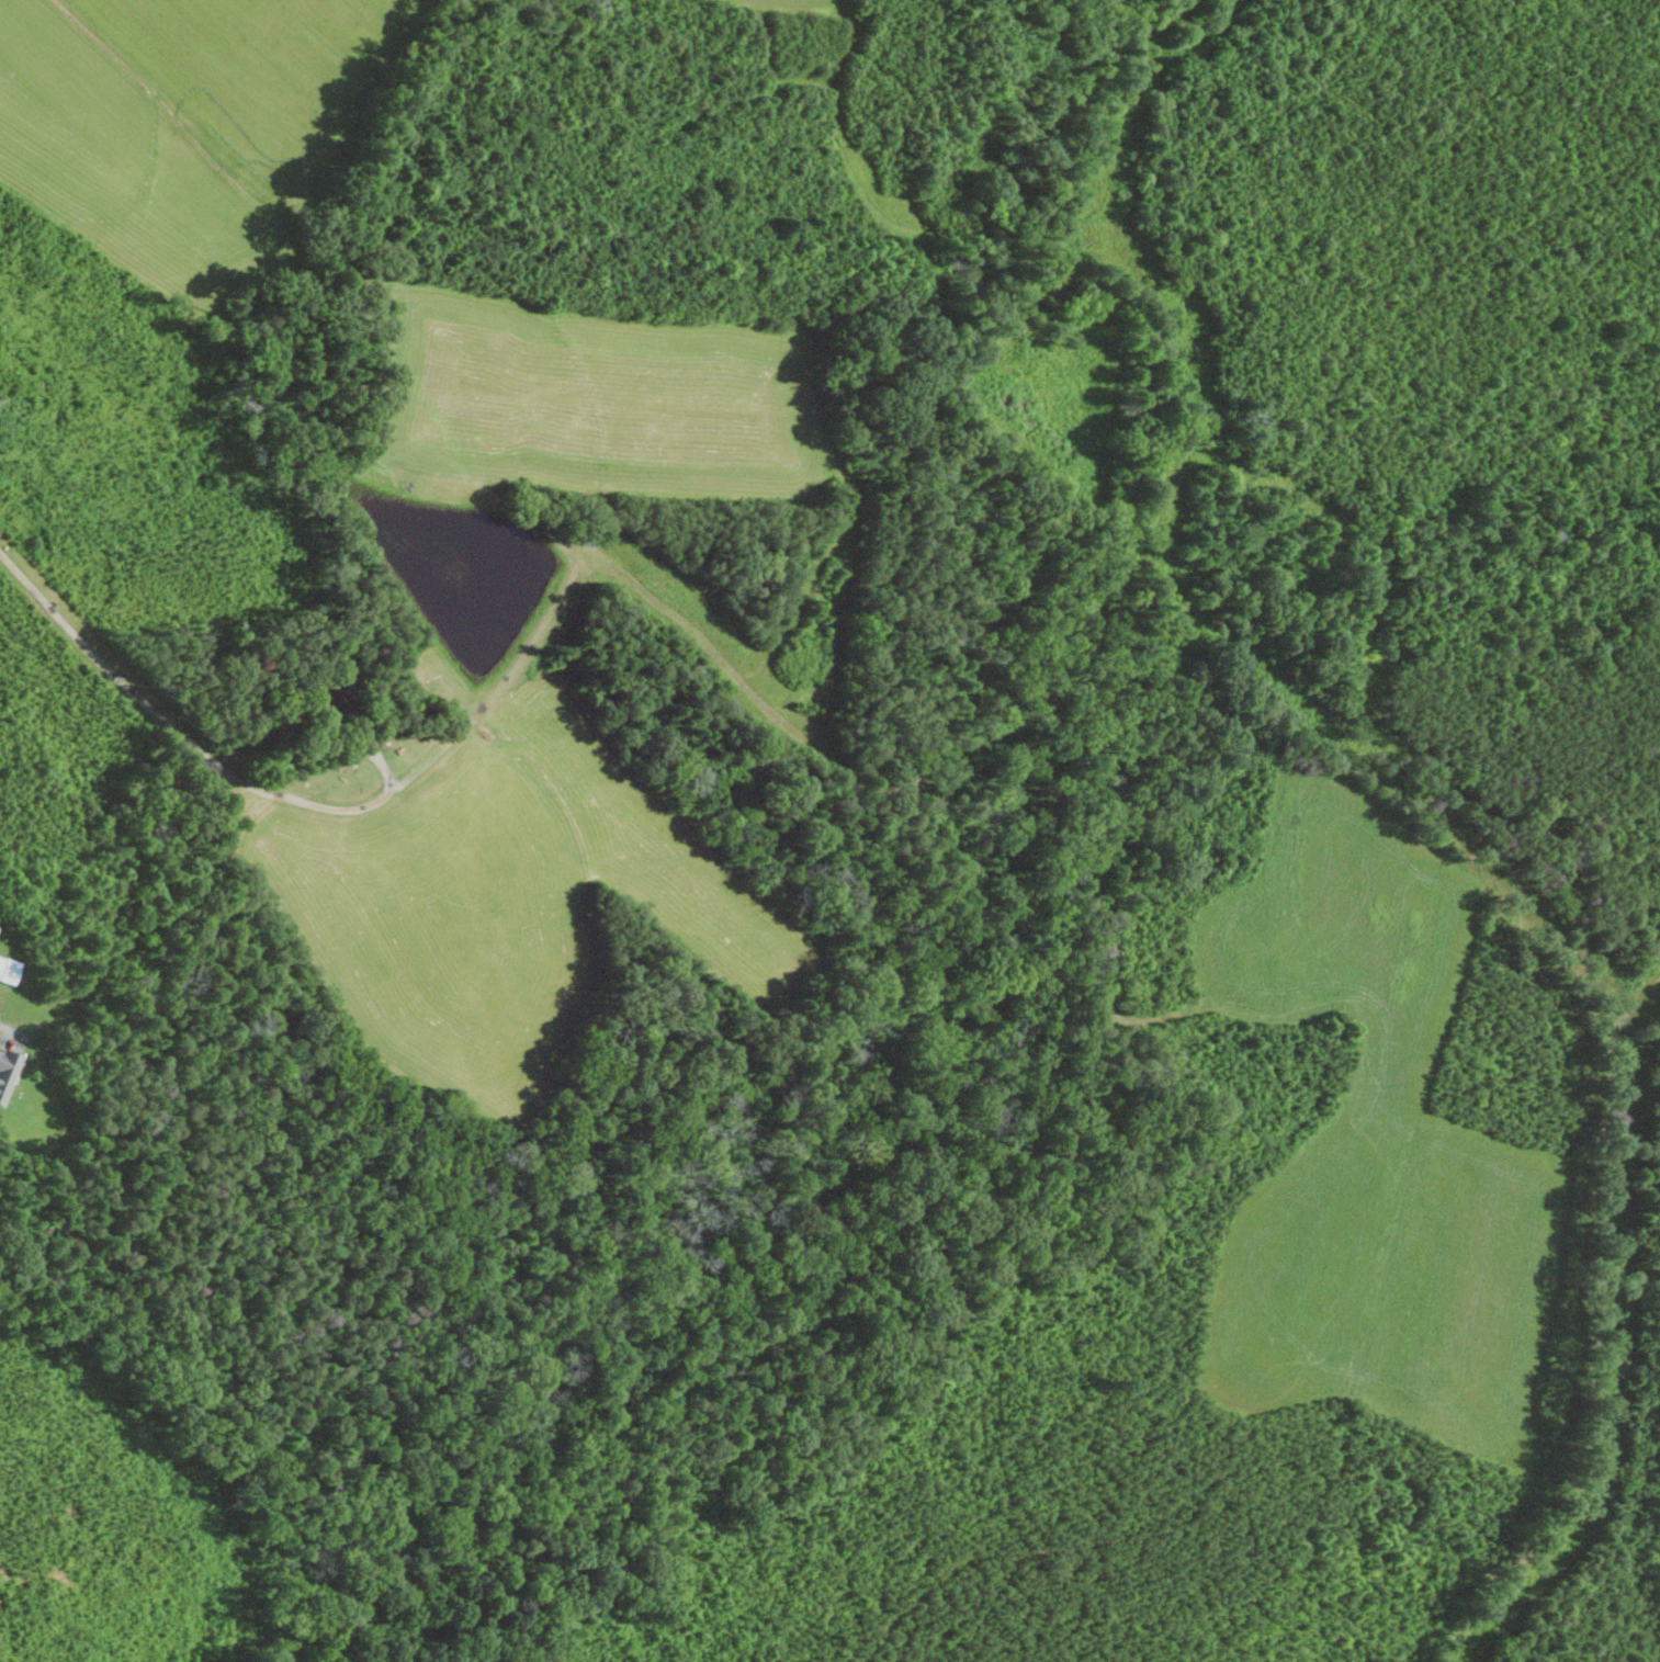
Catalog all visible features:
road: (191, 743)
building: (8, 970)
building: (7, 1071)

